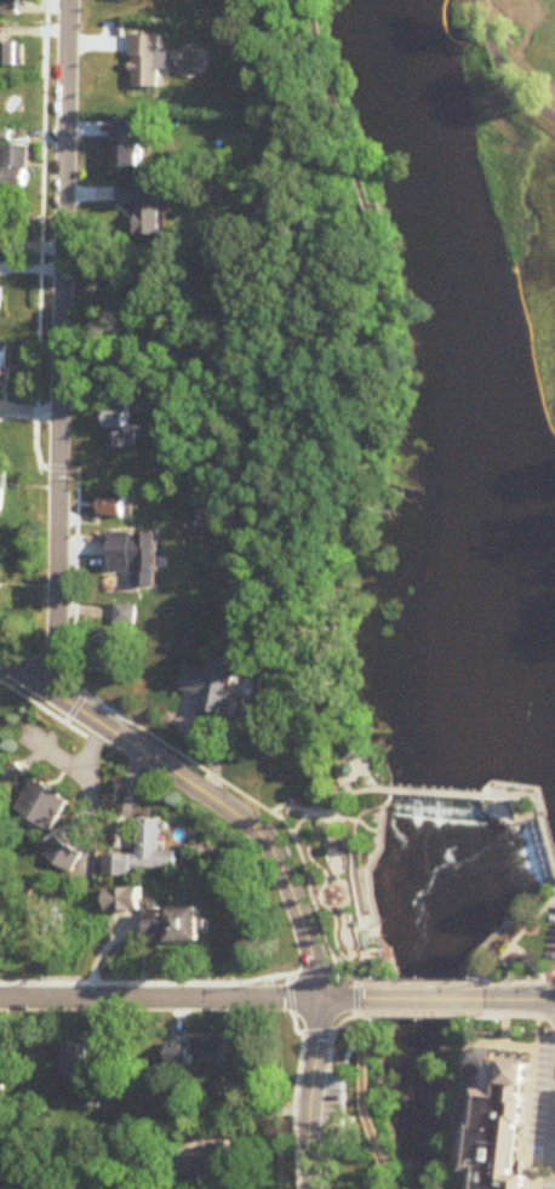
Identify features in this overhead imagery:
building: (8, 6)
building: (10, 53)
park: (520, 56)
building: (144, 62)
road: (505, 67)
building: (126, 154)
building: (12, 166)
building: (122, 208)
building: (5, 223)
building: (0, 299)
road: (55, 348)
building: (6, 371)
road: (377, 401)
building: (116, 427)
building: (128, 428)
building: (4, 480)
building: (118, 499)
building: (109, 507)
building: (115, 550)
building: (1, 583)
river: (491, 593)
building: (107, 646)
road: (27, 679)
building: (219, 686)
road: (33, 699)
road: (82, 714)
road: (201, 791)
road: (435, 796)
building: (48, 799)
road: (259, 806)
road: (538, 807)
dam: (494, 808)
road: (491, 814)
road: (333, 816)
road: (516, 817)
road: (509, 819)
road: (362, 829)
building: (150, 848)
building: (70, 850)
park: (334, 858)
road: (364, 868)
road: (353, 875)
road: (345, 891)
building: (136, 897)
road: (543, 909)
road: (522, 921)
building: (184, 924)
road: (304, 932)
parking lot: (551, 941)
road: (515, 943)
park: (517, 947)
road: (522, 966)
road: (548, 976)
road: (494, 977)
road: (536, 977)
road: (427, 978)
road: (366, 979)
road: (433, 997)
road: (526, 997)
road: (184, 1000)
road: (494, 1007)
road: (427, 1008)
road: (531, 1008)
road: (508, 1045)
building: (182, 1056)
building: (217, 1057)
building: (74, 1063)
building: (4, 1067)
road: (296, 1073)
building: (520, 1075)
road: (324, 1090)
road: (308, 1093)
park: (351, 1099)
road: (372, 1102)
road: (457, 1119)
parking lot: (331, 1124)
building: (498, 1137)
road: (554, 1150)
building: (212, 1156)
road: (319, 1168)

